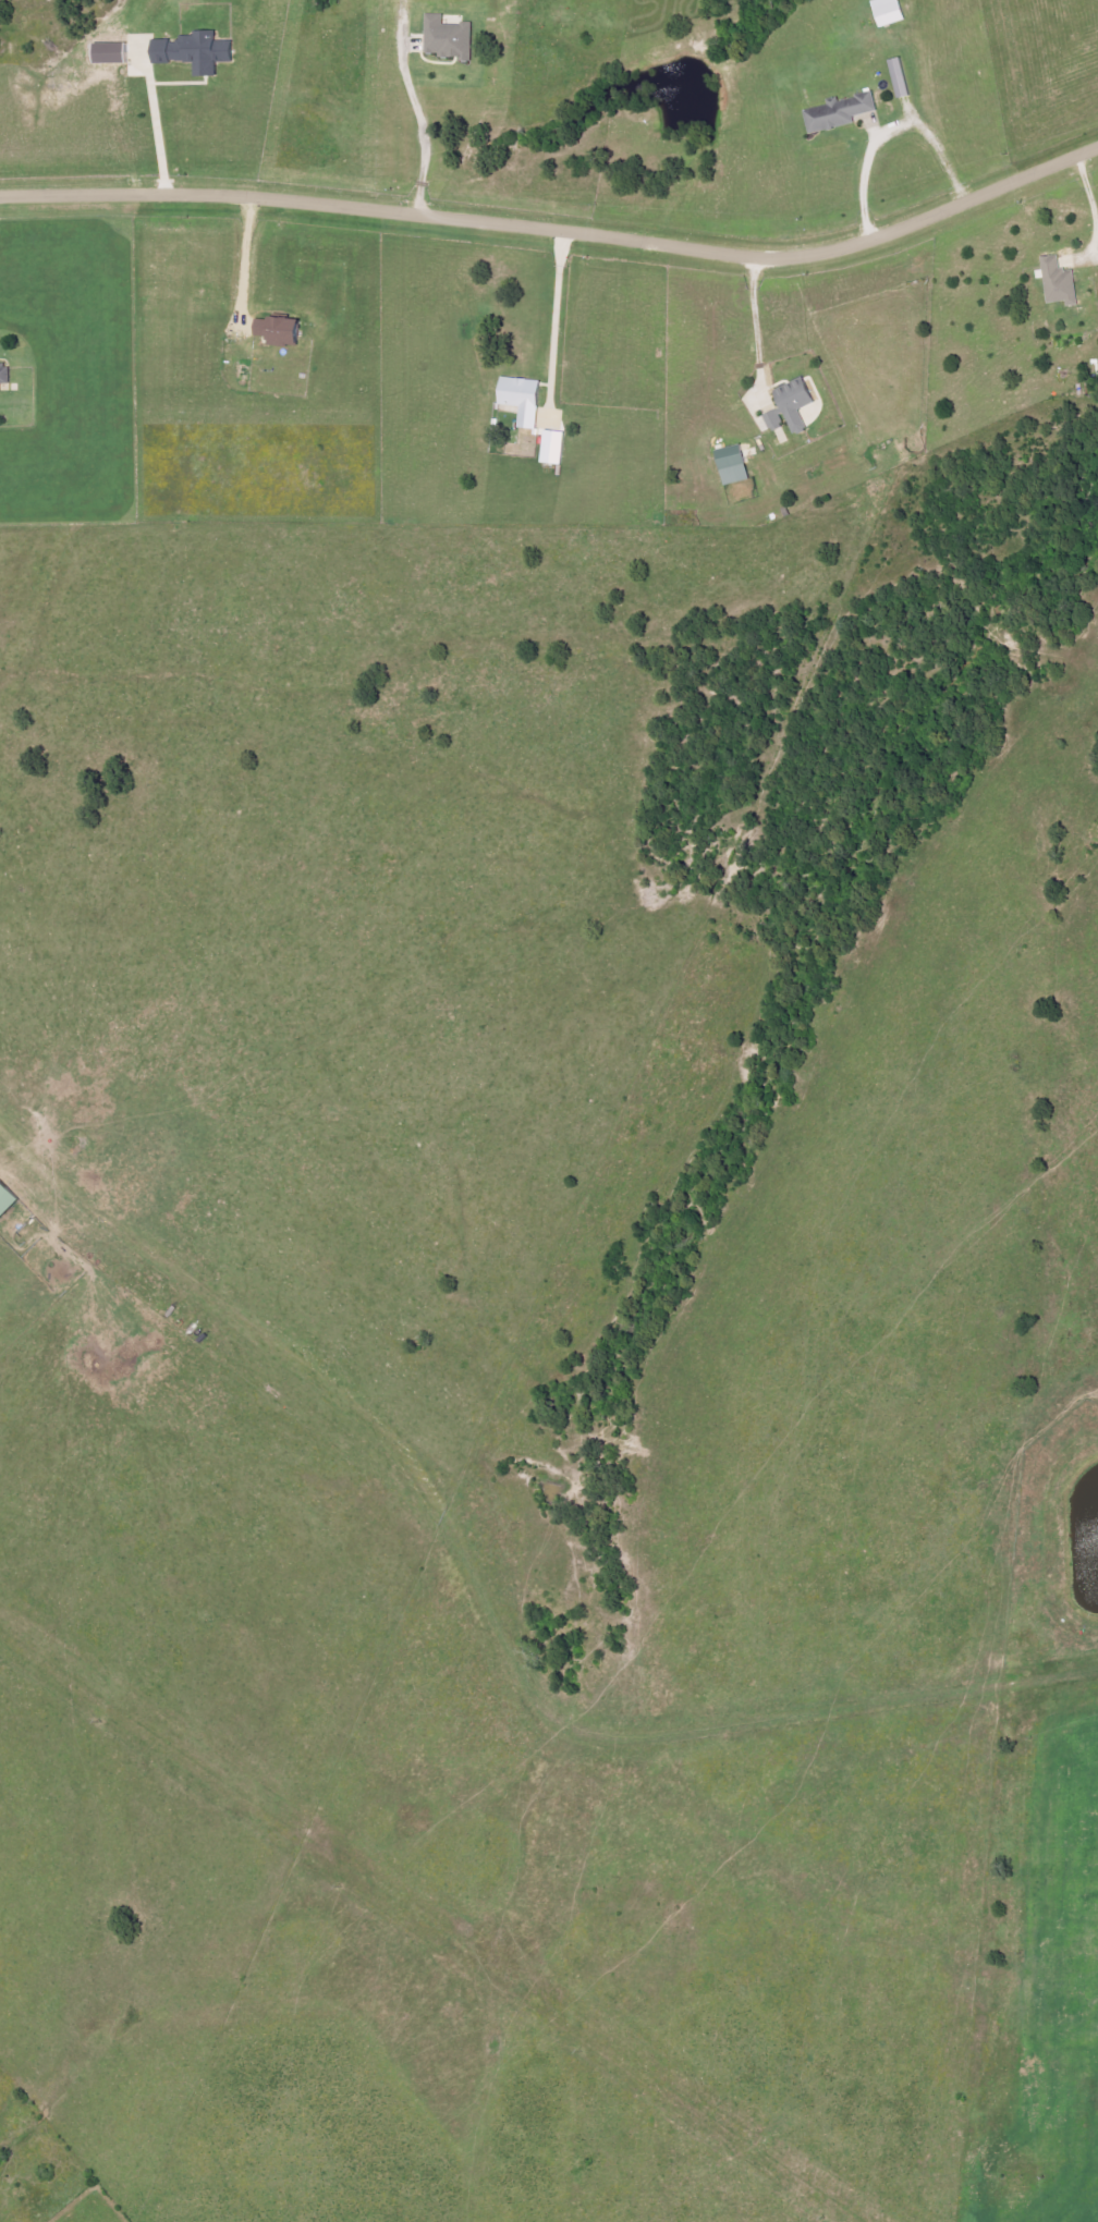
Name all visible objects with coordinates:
building: (893, 12)
building: (451, 38)
building: (199, 51)
building: (114, 53)
building: (904, 77)
building: (842, 112)
road: (559, 232)
building: (1062, 282)
building: (284, 330)
building: (5, 375)
building: (526, 400)
building: (798, 403)
building: (777, 420)
building: (557, 448)
building: (737, 464)
building: (8, 1199)

